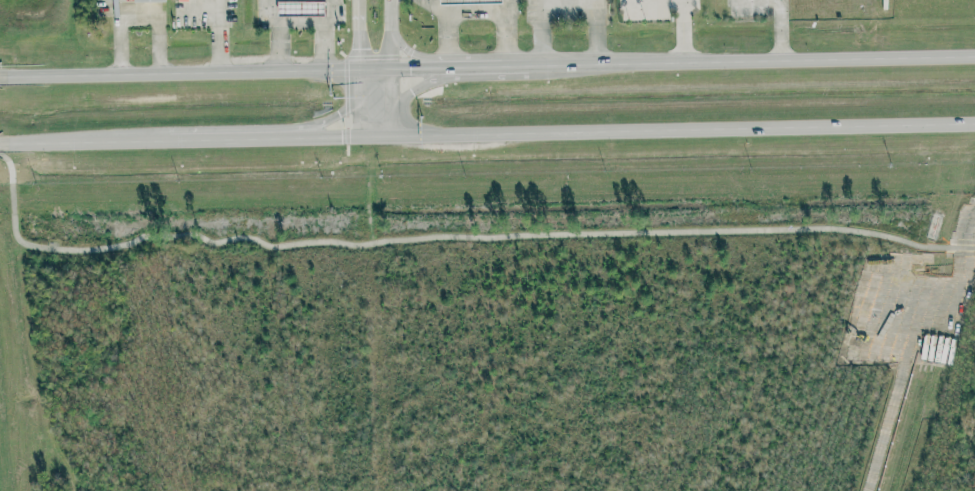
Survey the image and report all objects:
building: (149, 1)
building: (470, 2)
road: (438, 7)
building: (301, 9)
road: (331, 12)
road: (474, 14)
road: (137, 16)
road: (300, 21)
road: (780, 29)
road: (682, 32)
road: (542, 33)
road: (596, 33)
road: (357, 35)
road: (221, 46)
traffic signals: (357, 48)
road: (412, 53)
road: (758, 62)
road: (390, 67)
road: (522, 67)
road: (474, 69)
traffic signals: (409, 70)
road: (223, 72)
road: (427, 84)
traffic signals: (412, 92)
road: (357, 102)
road: (336, 115)
traffic signals: (338, 115)
road: (666, 133)
road: (316, 137)
traffic signals: (341, 137)
road: (220, 140)
road: (82, 144)
road: (1, 157)
road: (10, 168)
road: (10, 199)
road: (455, 237)
road: (951, 247)

